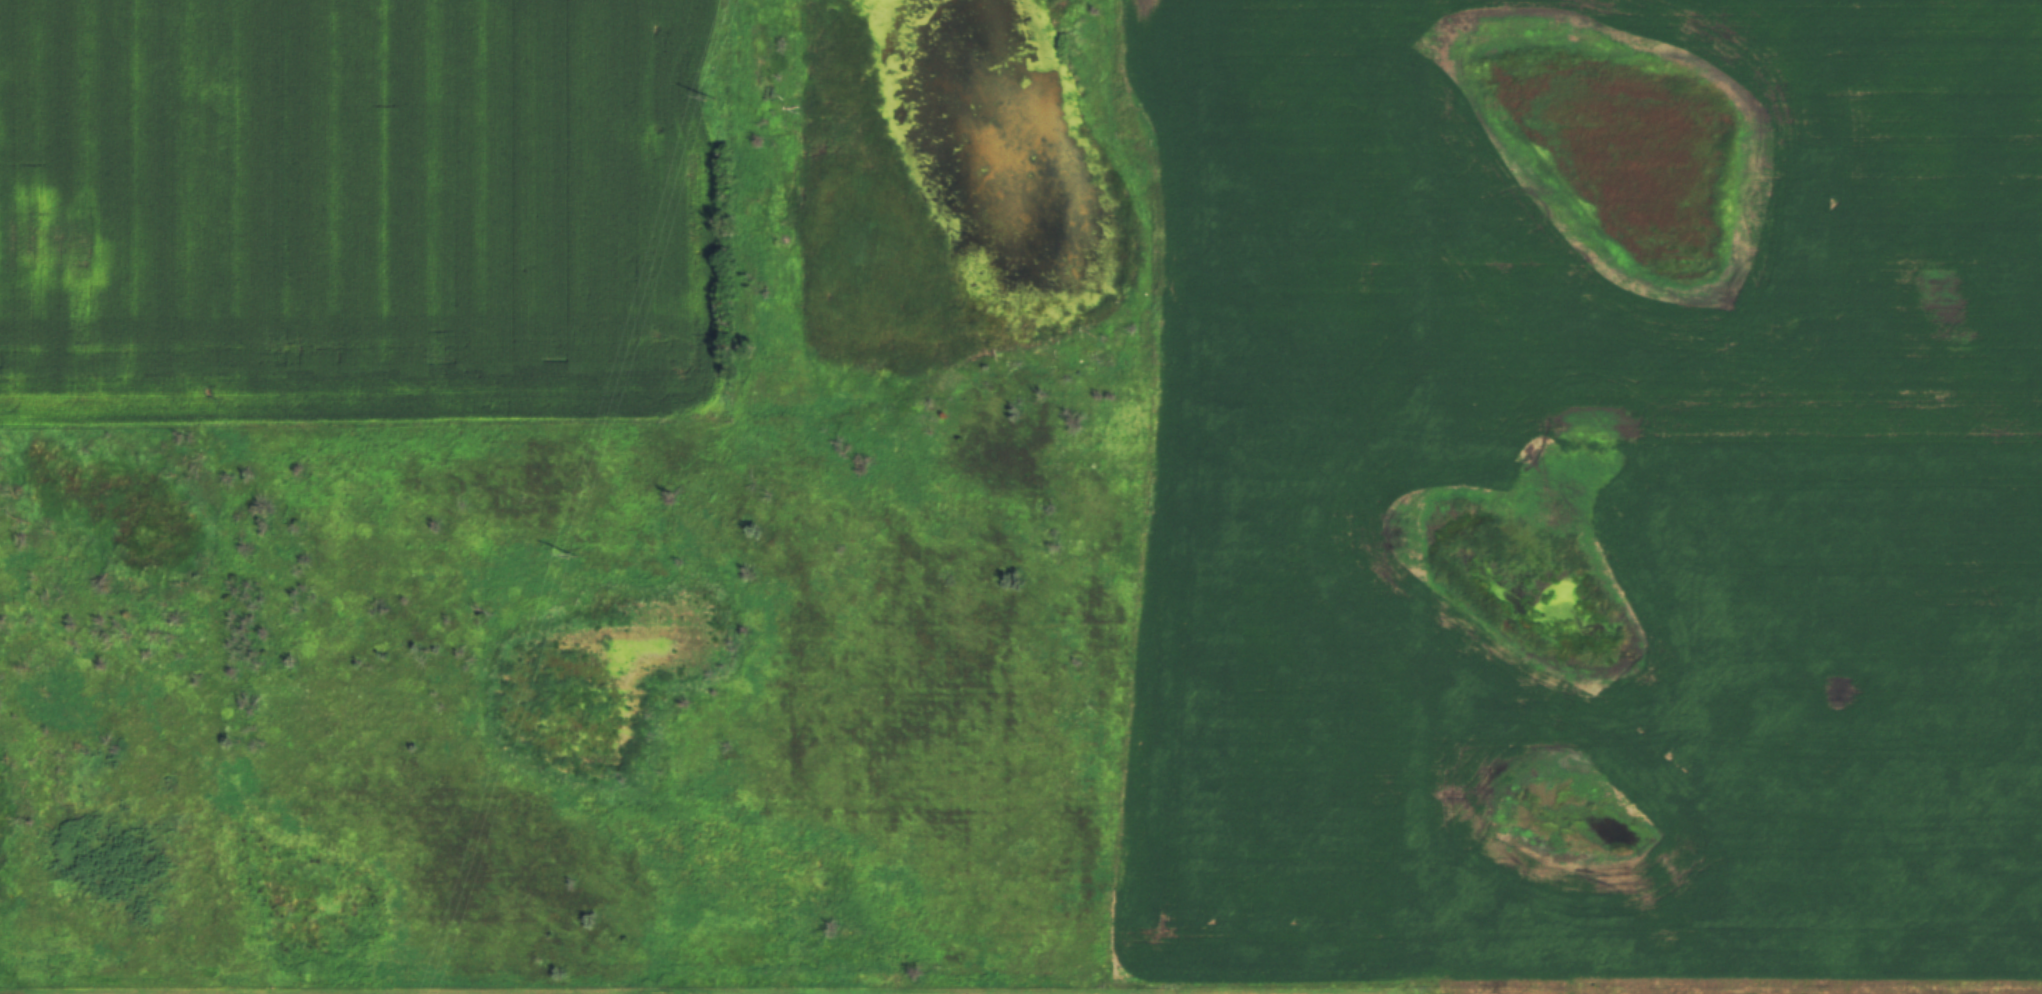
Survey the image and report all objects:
power tower: (708, 96)
power tower: (571, 555)

